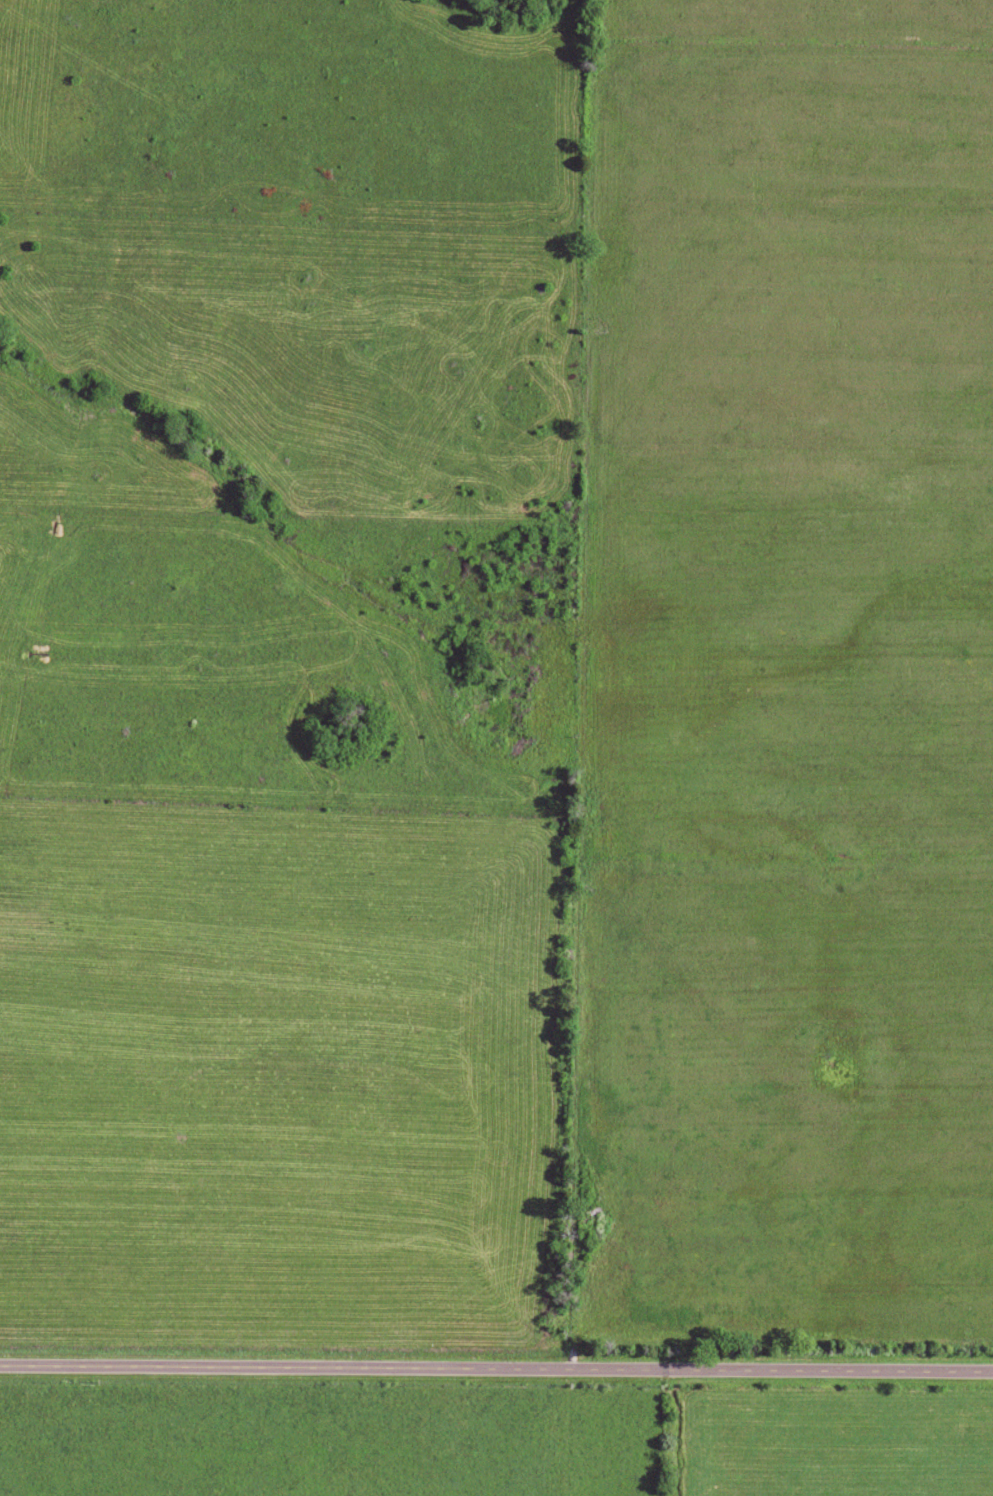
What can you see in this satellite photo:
road: (496, 1371)

